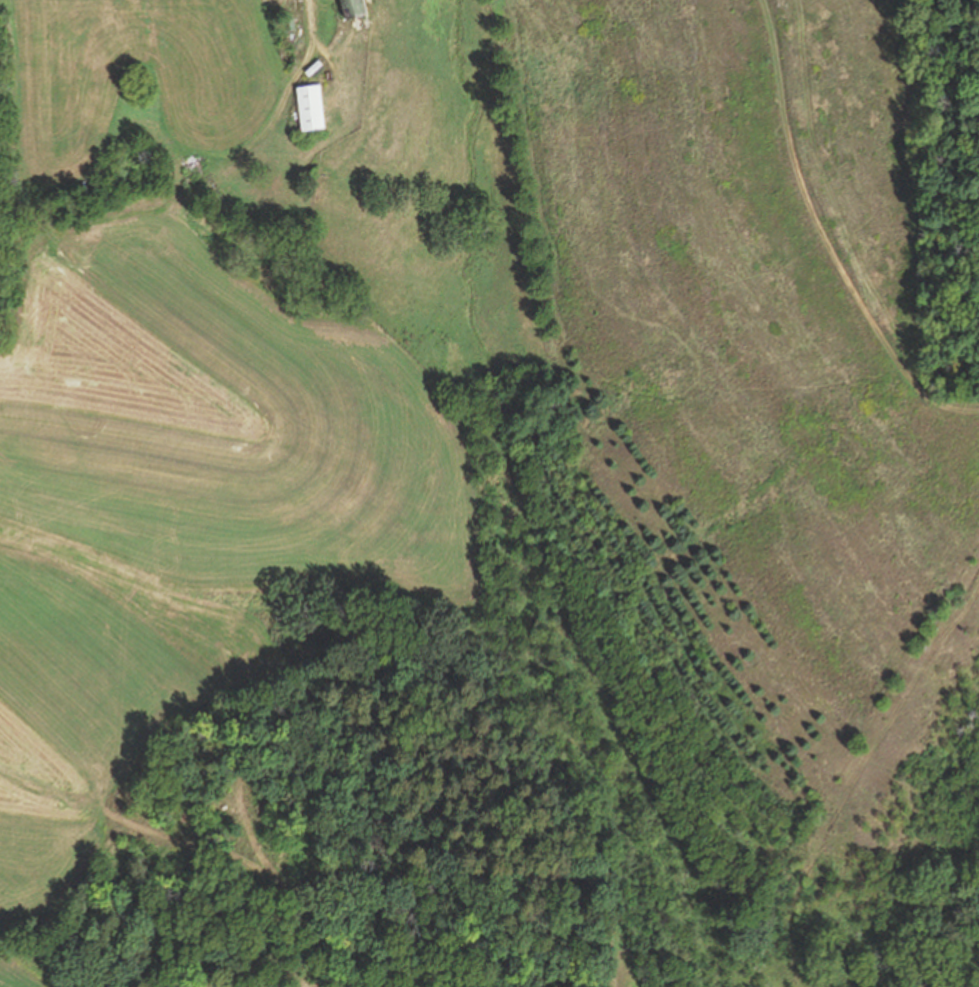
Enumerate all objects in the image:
building: (353, 9)
building: (312, 108)

